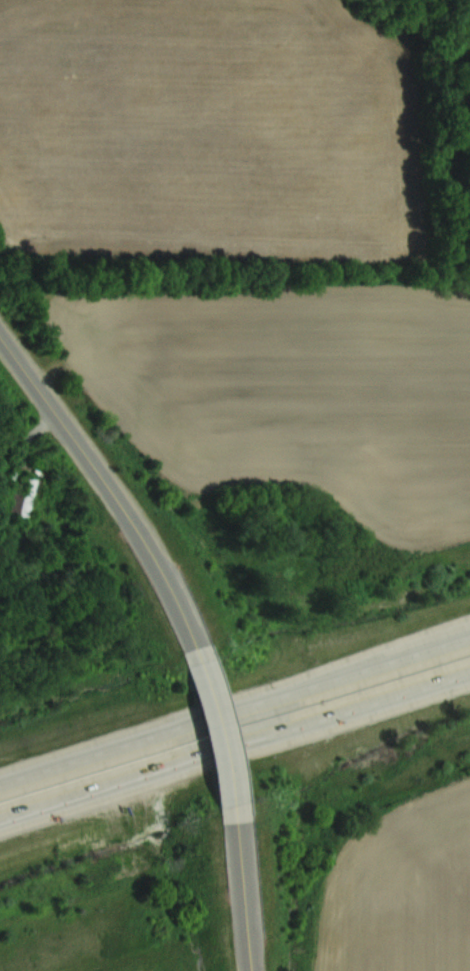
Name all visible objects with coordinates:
crop: (246, 244)
road: (107, 485)
building: (24, 501)
road: (235, 711)
road: (221, 733)
road: (235, 747)
crop: (402, 890)
road: (243, 896)

